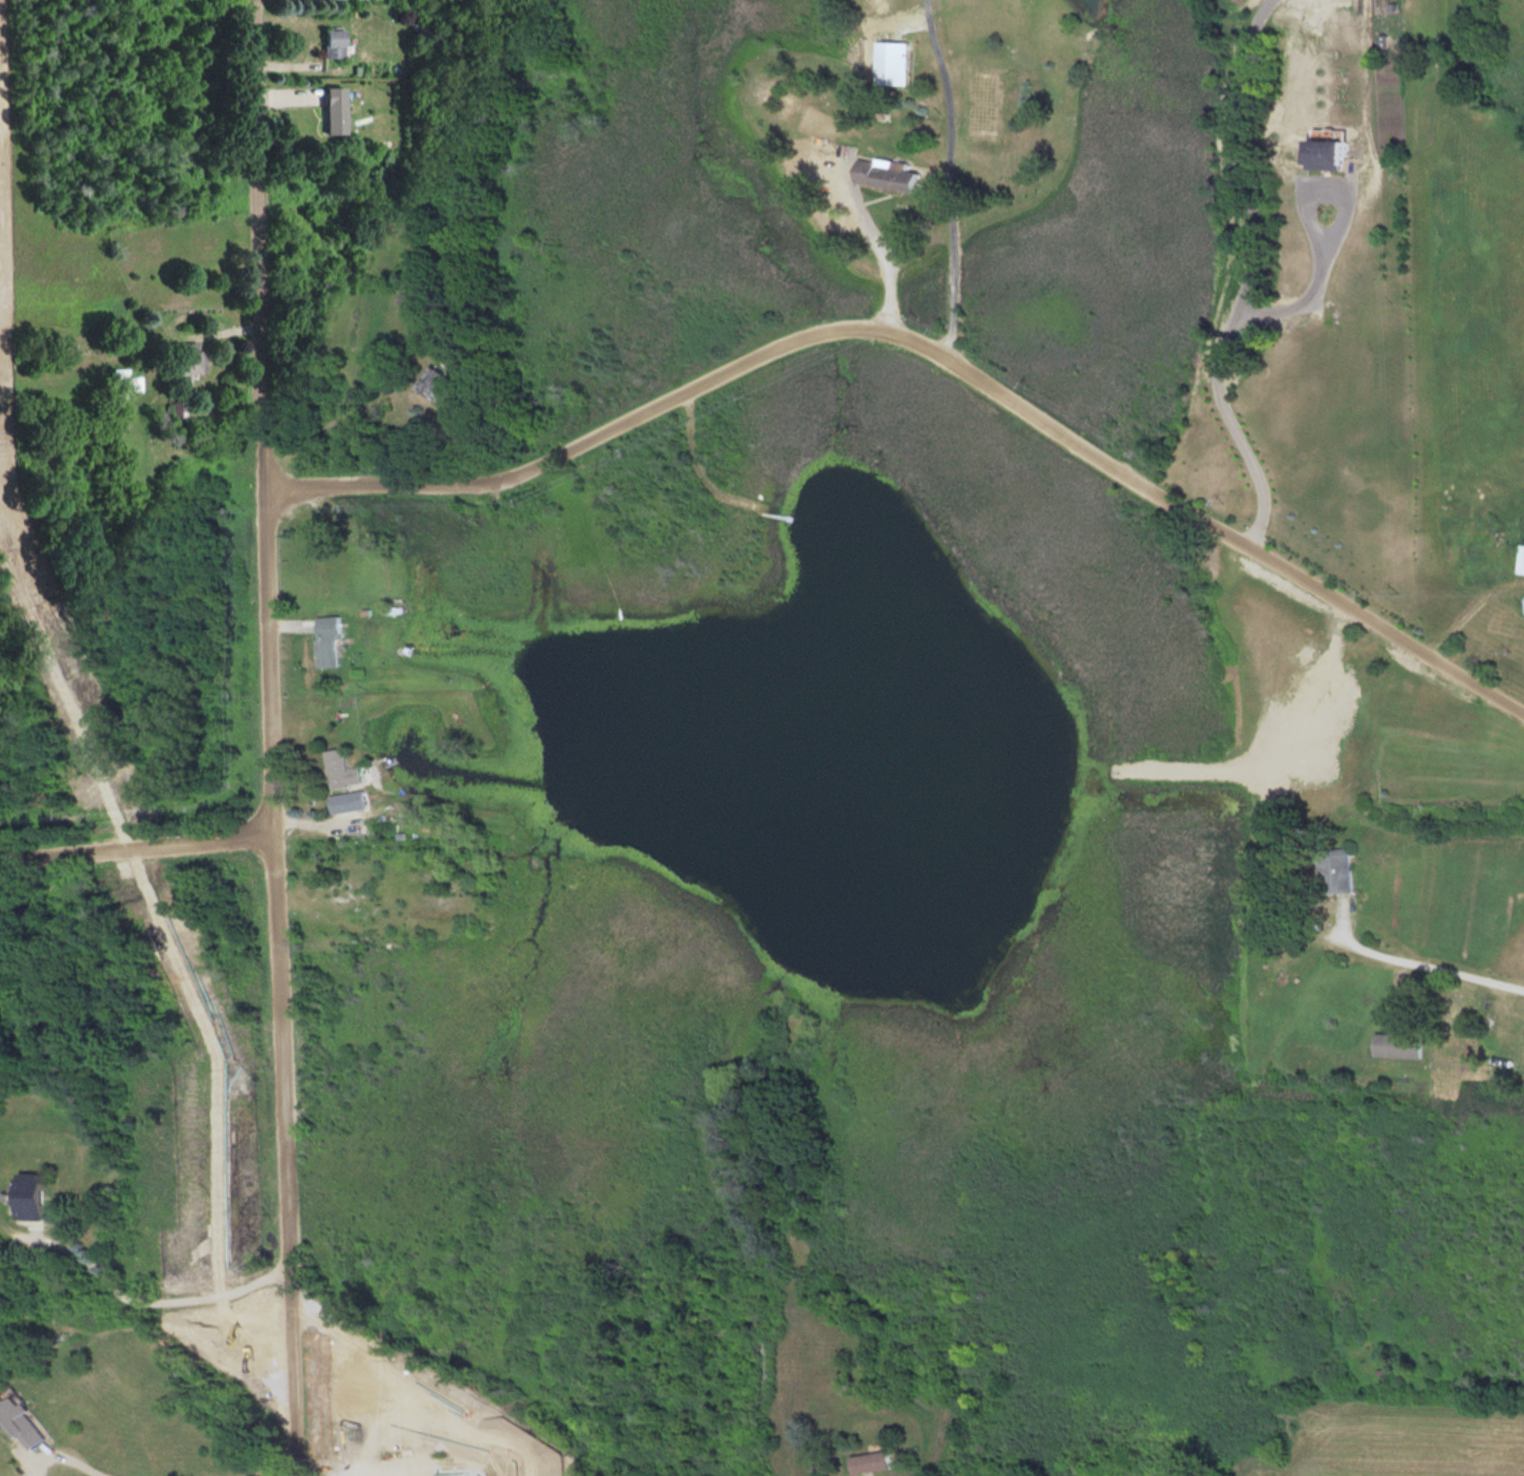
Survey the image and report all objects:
building: (332, 42)
building: (893, 61)
building: (332, 109)
building: (1332, 147)
road: (1248, 162)
building: (889, 174)
road: (951, 175)
road: (884, 253)
road: (1270, 313)
road: (928, 343)
building: (189, 360)
building: (123, 382)
building: (439, 382)
building: (1522, 559)
building: (329, 640)
road: (271, 737)
building: (342, 769)
road: (137, 847)
road: (1440, 966)
building: (1400, 1045)
building: (1503, 1070)
building: (35, 1195)
road: (174, 1297)
road: (393, 1385)
building: (333, 1396)
building: (23, 1420)
building: (434, 1420)
road: (67, 1456)
building: (876, 1462)

